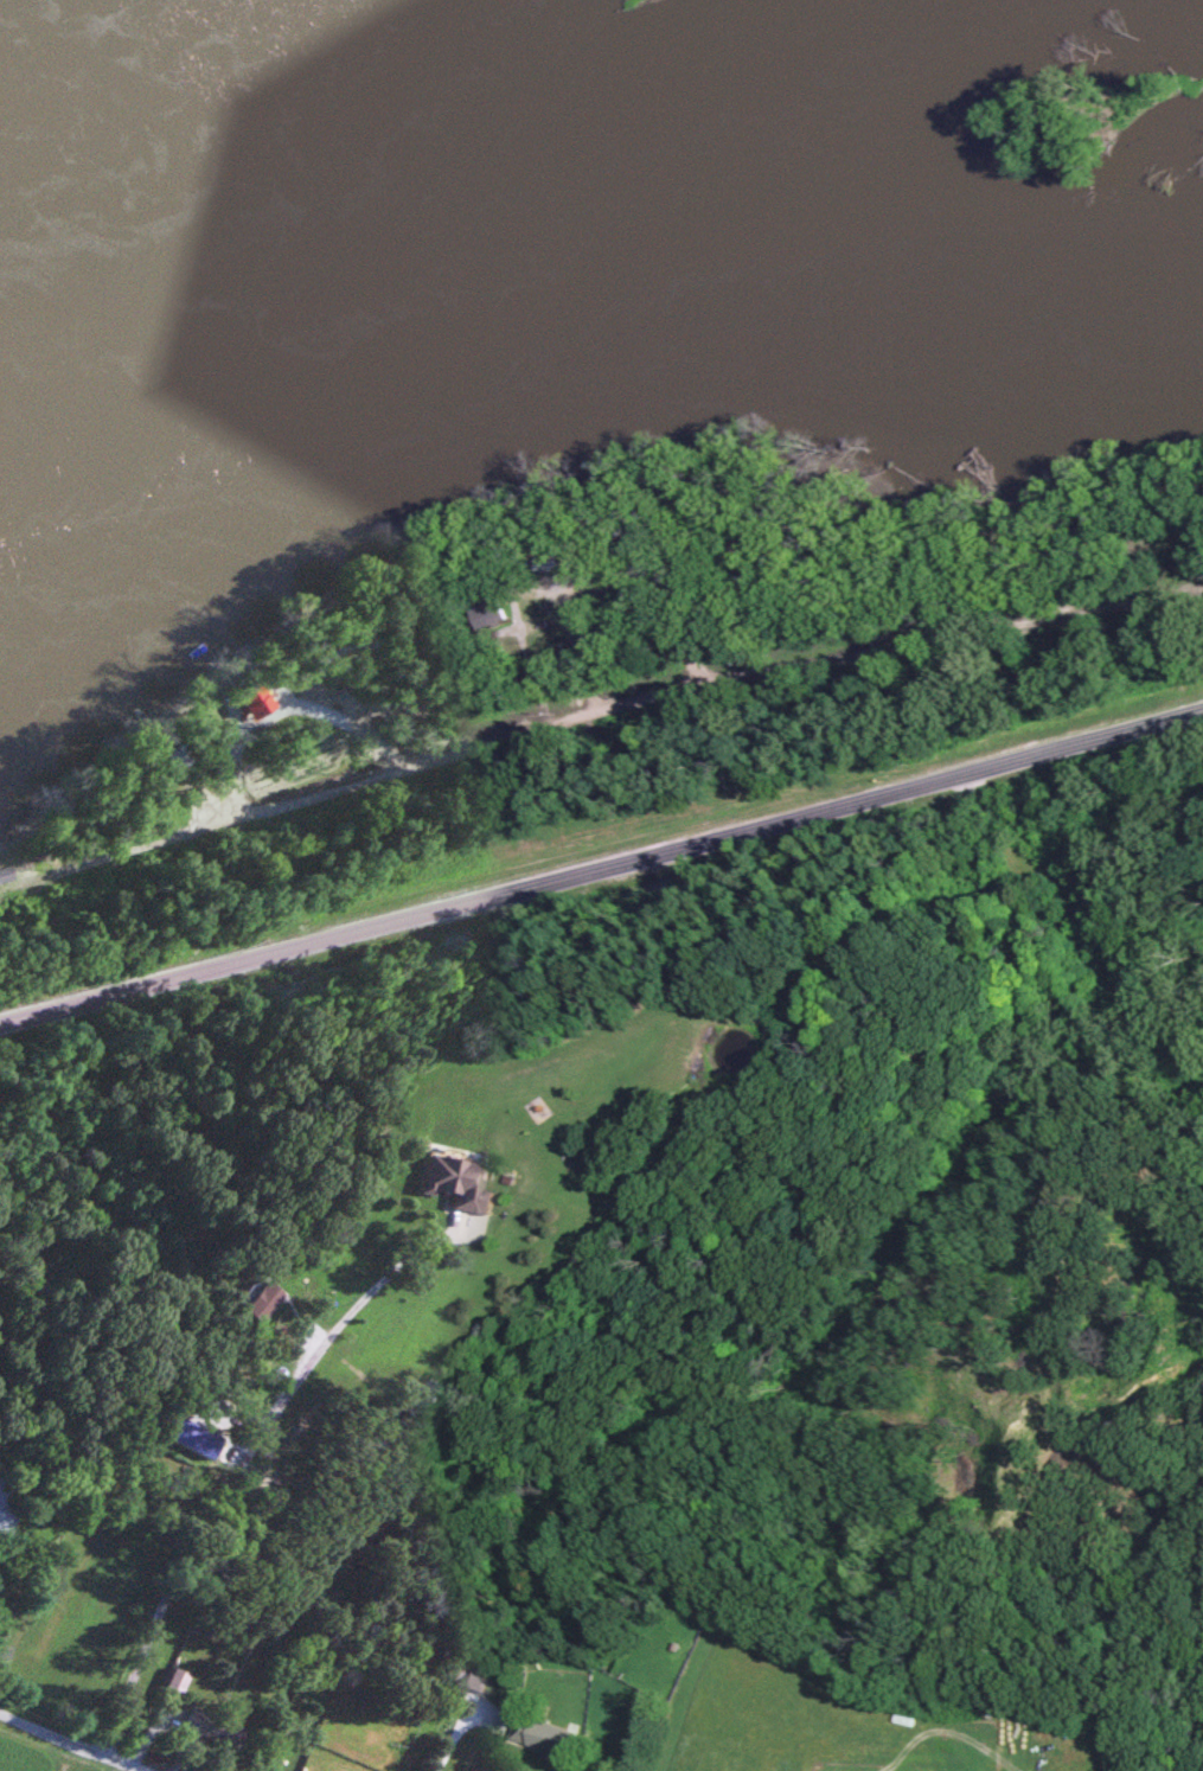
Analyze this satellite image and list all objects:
building: (506, 614)
road: (602, 868)
building: (6, 872)
building: (461, 1181)
building: (263, 1299)
building: (472, 1677)
building: (211, 1727)
building: (551, 1735)
road: (72, 1744)

